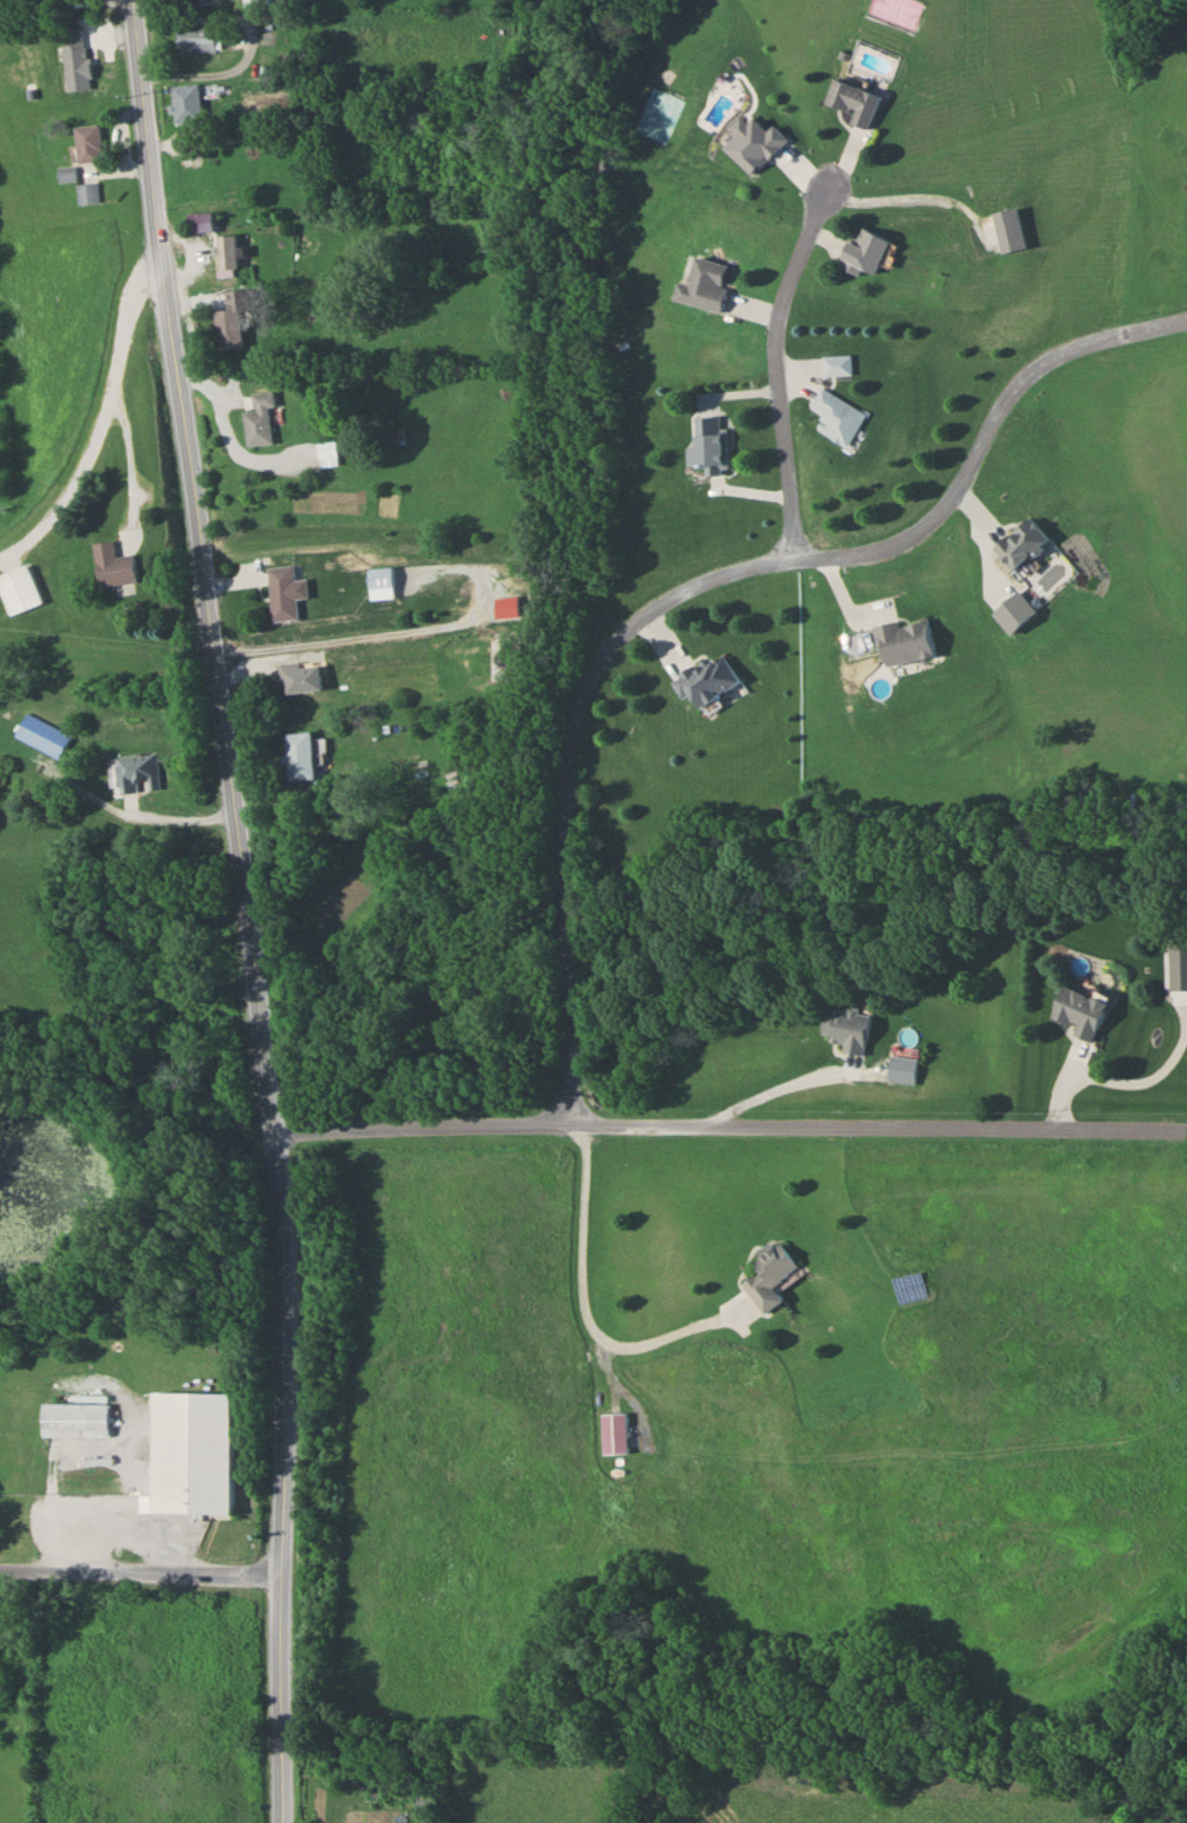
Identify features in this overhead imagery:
building: (256, 2)
building: (193, 39)
building: (258, 98)
building: (851, 100)
building: (184, 102)
building: (86, 142)
building: (85, 192)
building: (202, 221)
building: (1007, 228)
building: (863, 251)
building: (226, 252)
building: (701, 283)
building: (228, 323)
road: (777, 350)
crop: (51, 351)
building: (834, 364)
road: (123, 399)
building: (257, 416)
building: (835, 416)
building: (706, 443)
building: (324, 452)
road: (78, 471)
building: (1020, 542)
building: (111, 564)
road: (201, 564)
building: (377, 577)
building: (16, 588)
building: (282, 593)
building: (903, 640)
building: (297, 676)
building: (705, 679)
road: (582, 702)
building: (39, 735)
building: (297, 755)
building: (133, 769)
road: (129, 815)
building: (1078, 1011)
building: (847, 1027)
building: (900, 1069)
road: (733, 1119)
building: (770, 1276)
road: (283, 1352)
building: (72, 1418)
building: (613, 1432)
building: (186, 1453)
road: (141, 1567)
road: (282, 1701)

